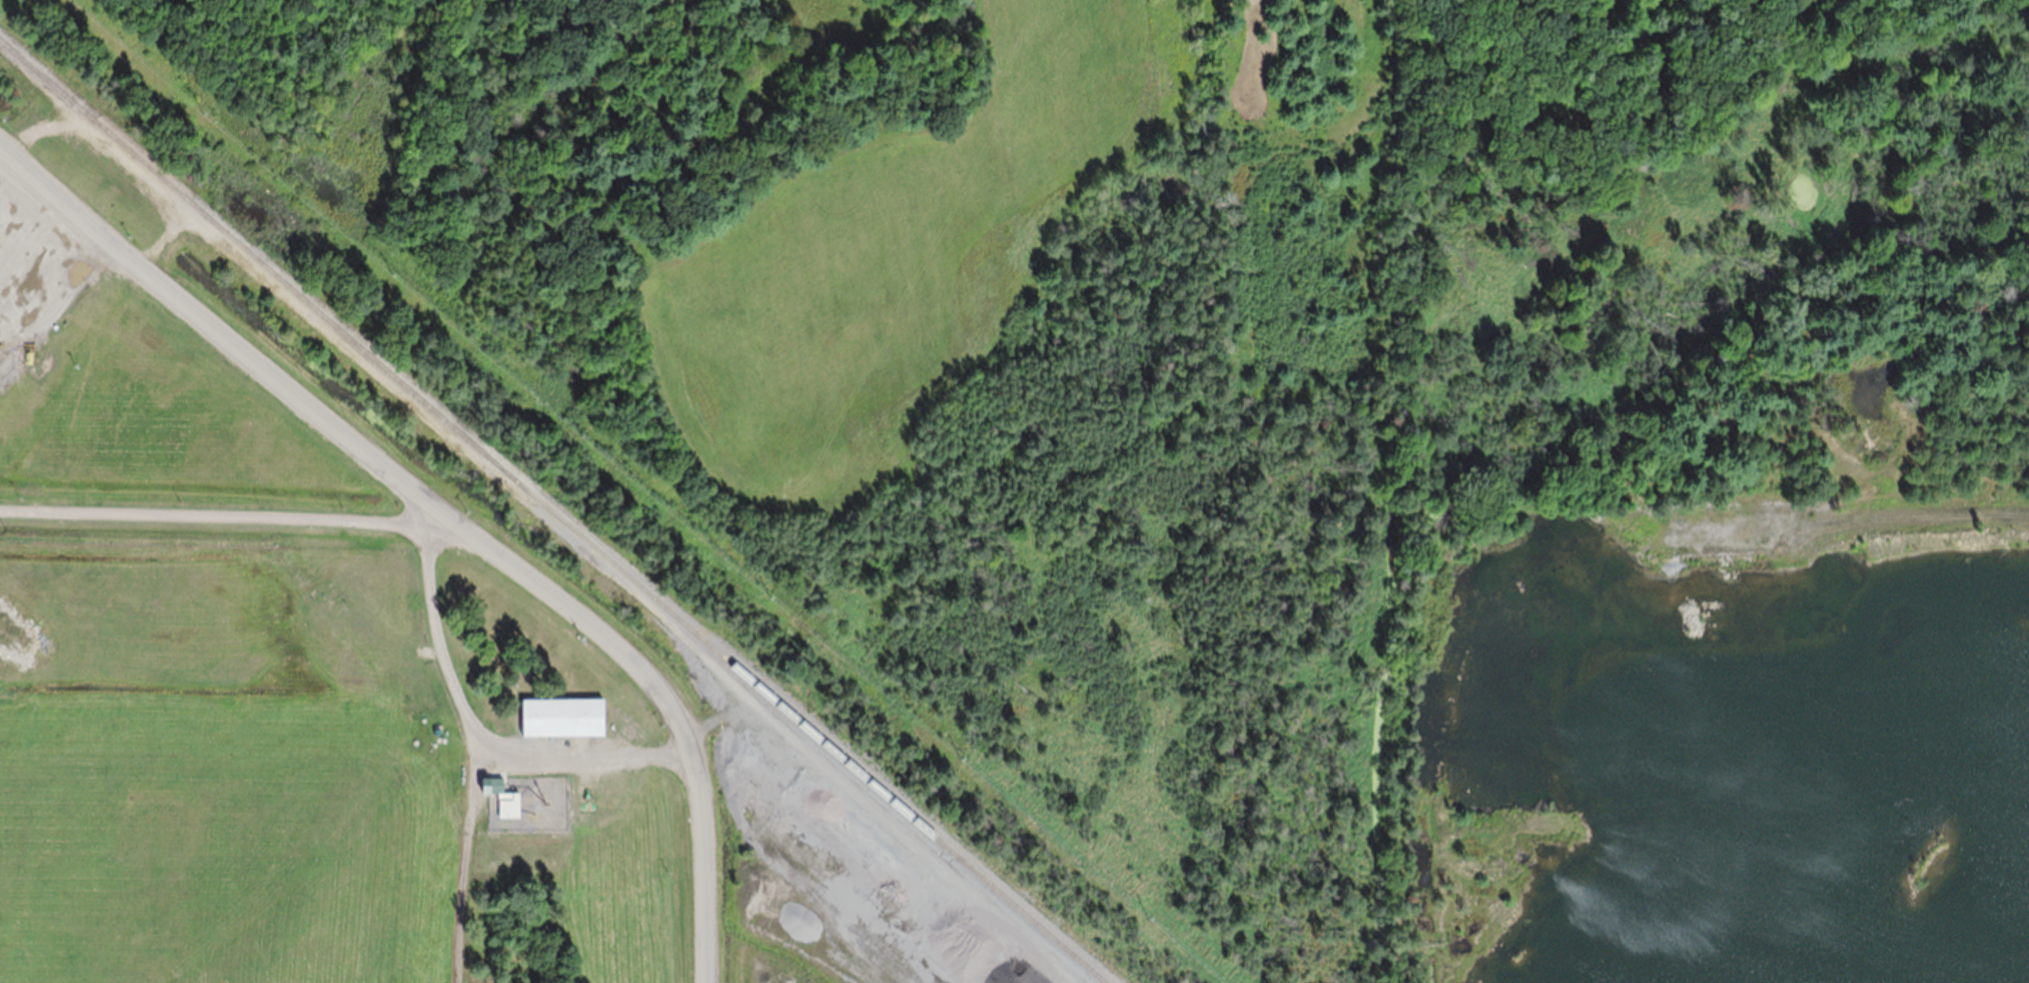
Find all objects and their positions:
building: (103, 176)
landfill: (889, 447)
road: (437, 507)
railway: (554, 512)
road: (230, 513)
building: (562, 715)
building: (496, 783)

